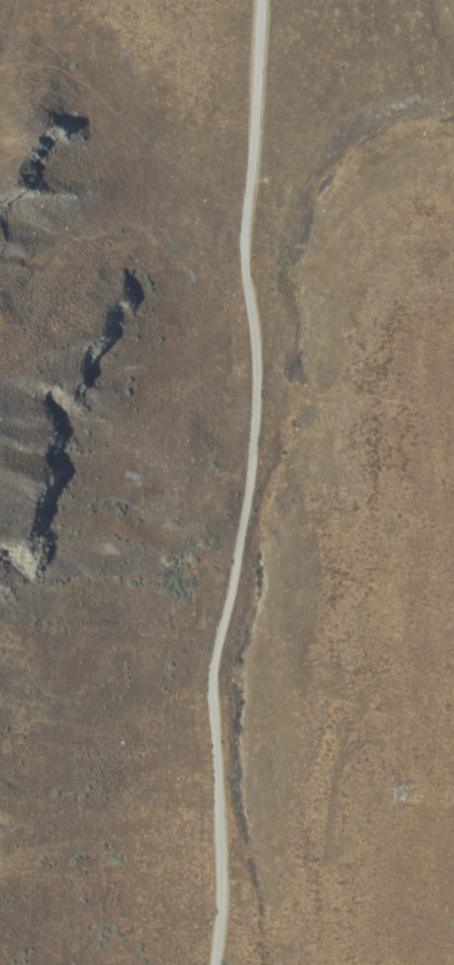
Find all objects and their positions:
road: (256, 483)

